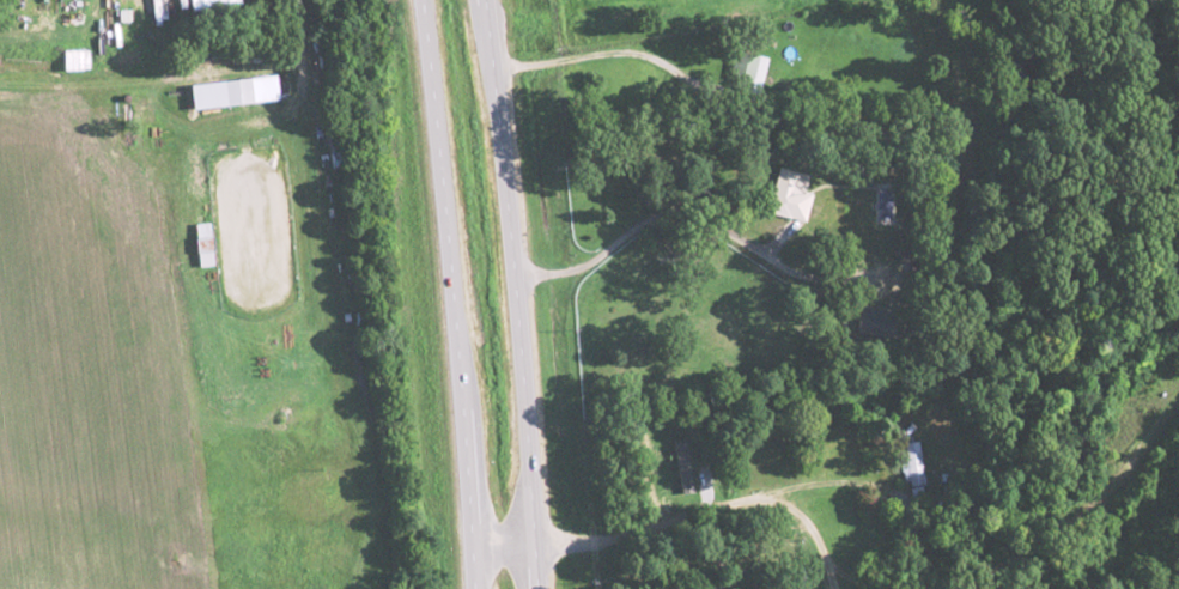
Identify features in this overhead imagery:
building: (74, 59)
building: (783, 193)
building: (201, 248)
road: (450, 293)
road: (516, 293)
building: (910, 464)
road: (503, 546)

